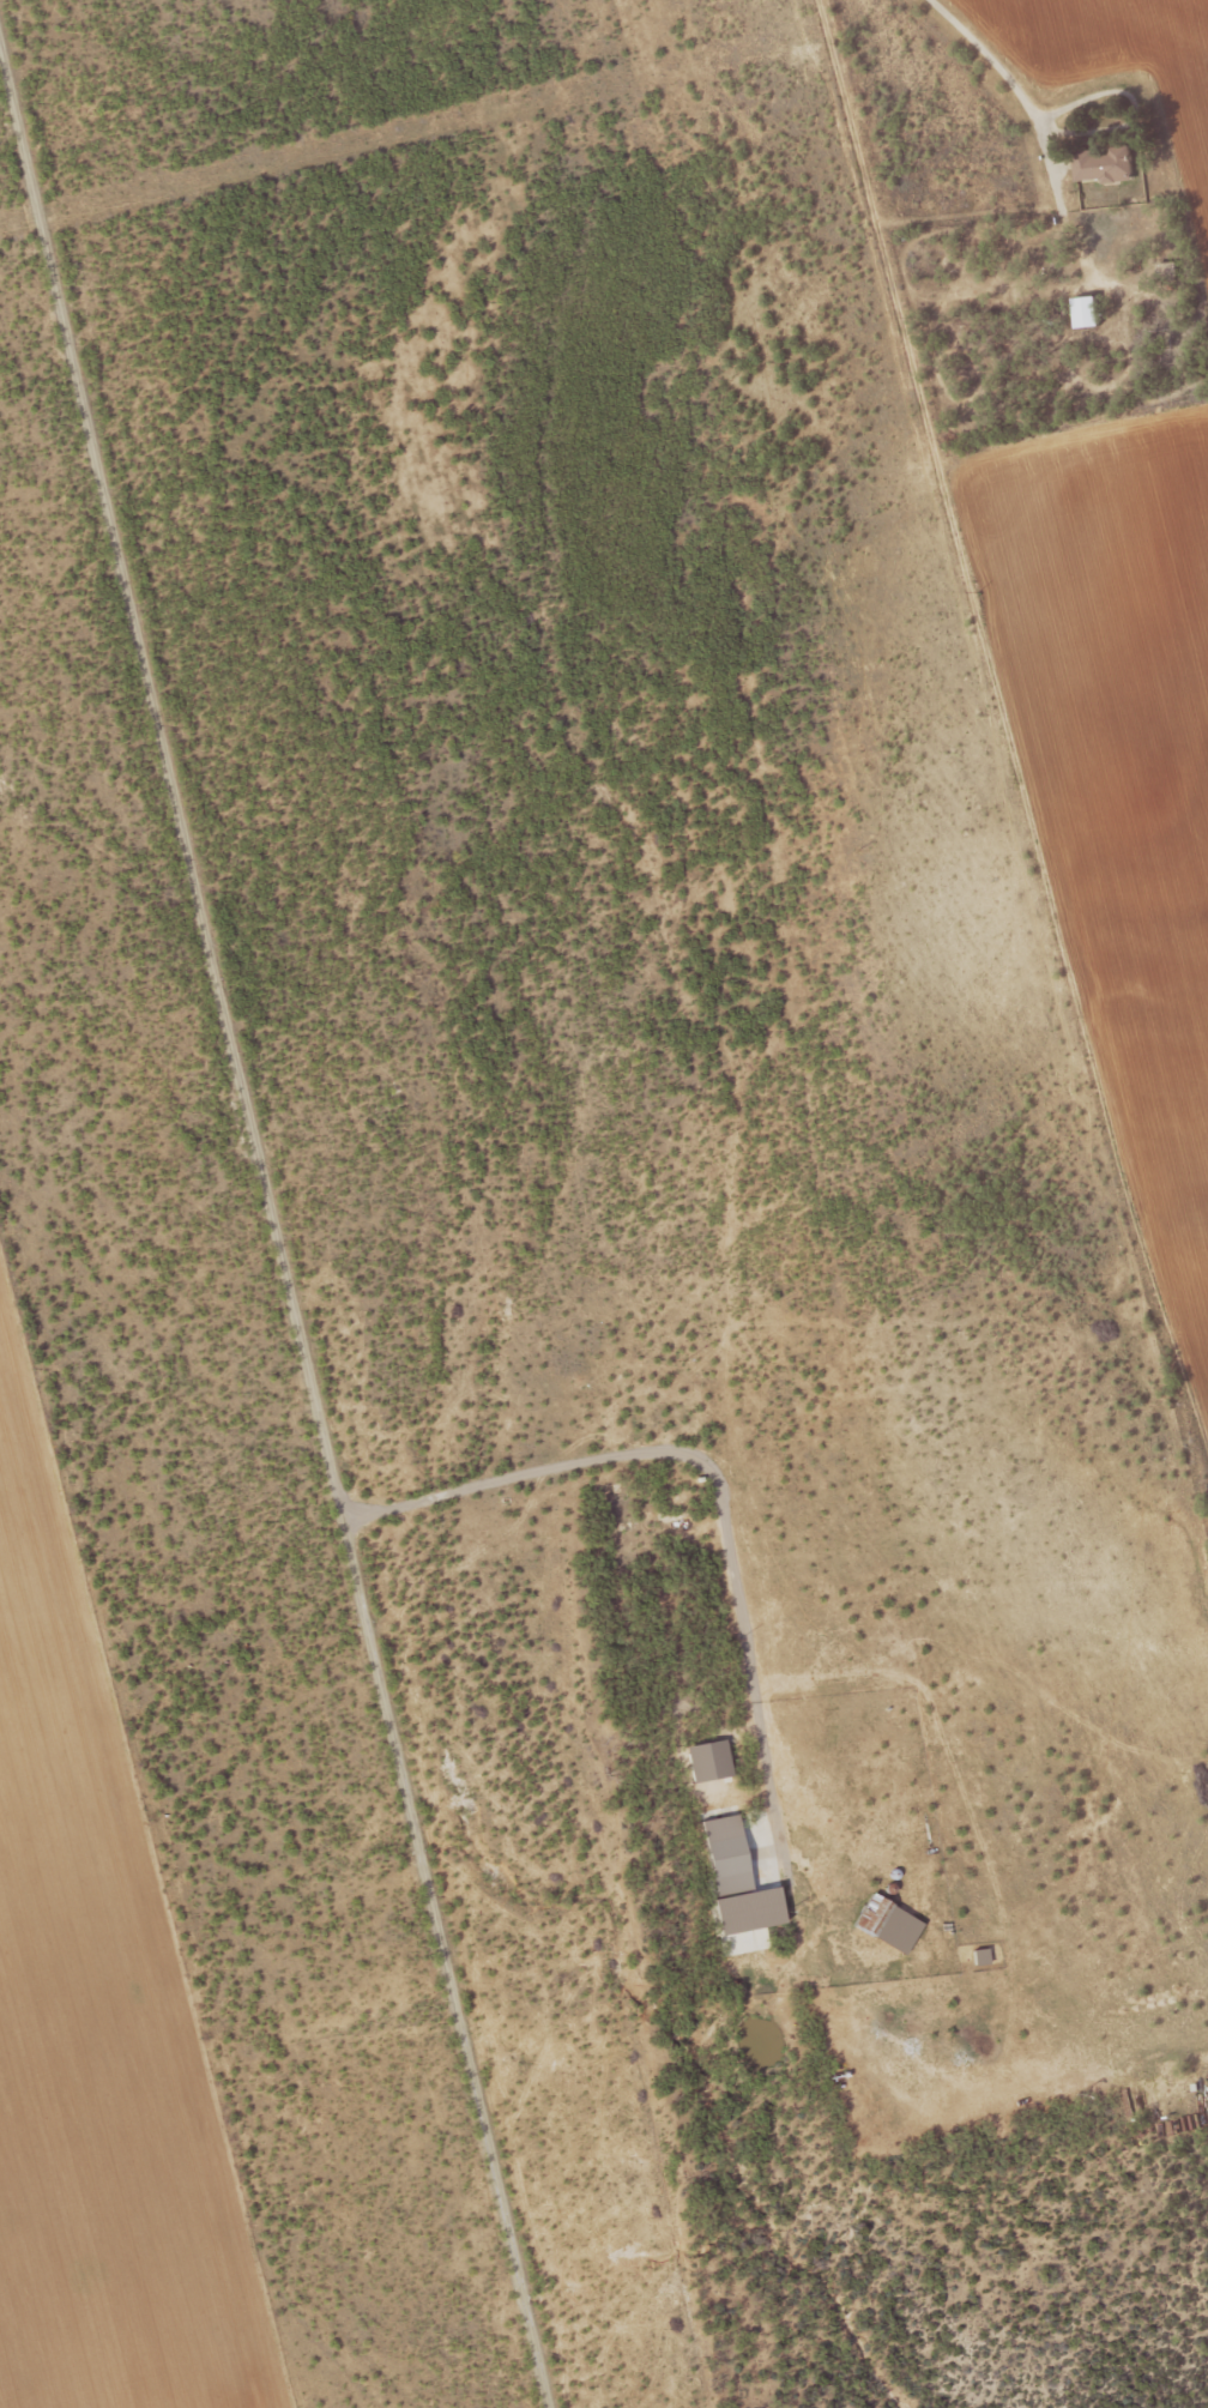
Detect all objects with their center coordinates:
road: (1038, 120)
building: (1104, 164)
building: (1088, 310)
road: (273, 1230)
building: (676, 1416)
building: (732, 1876)

